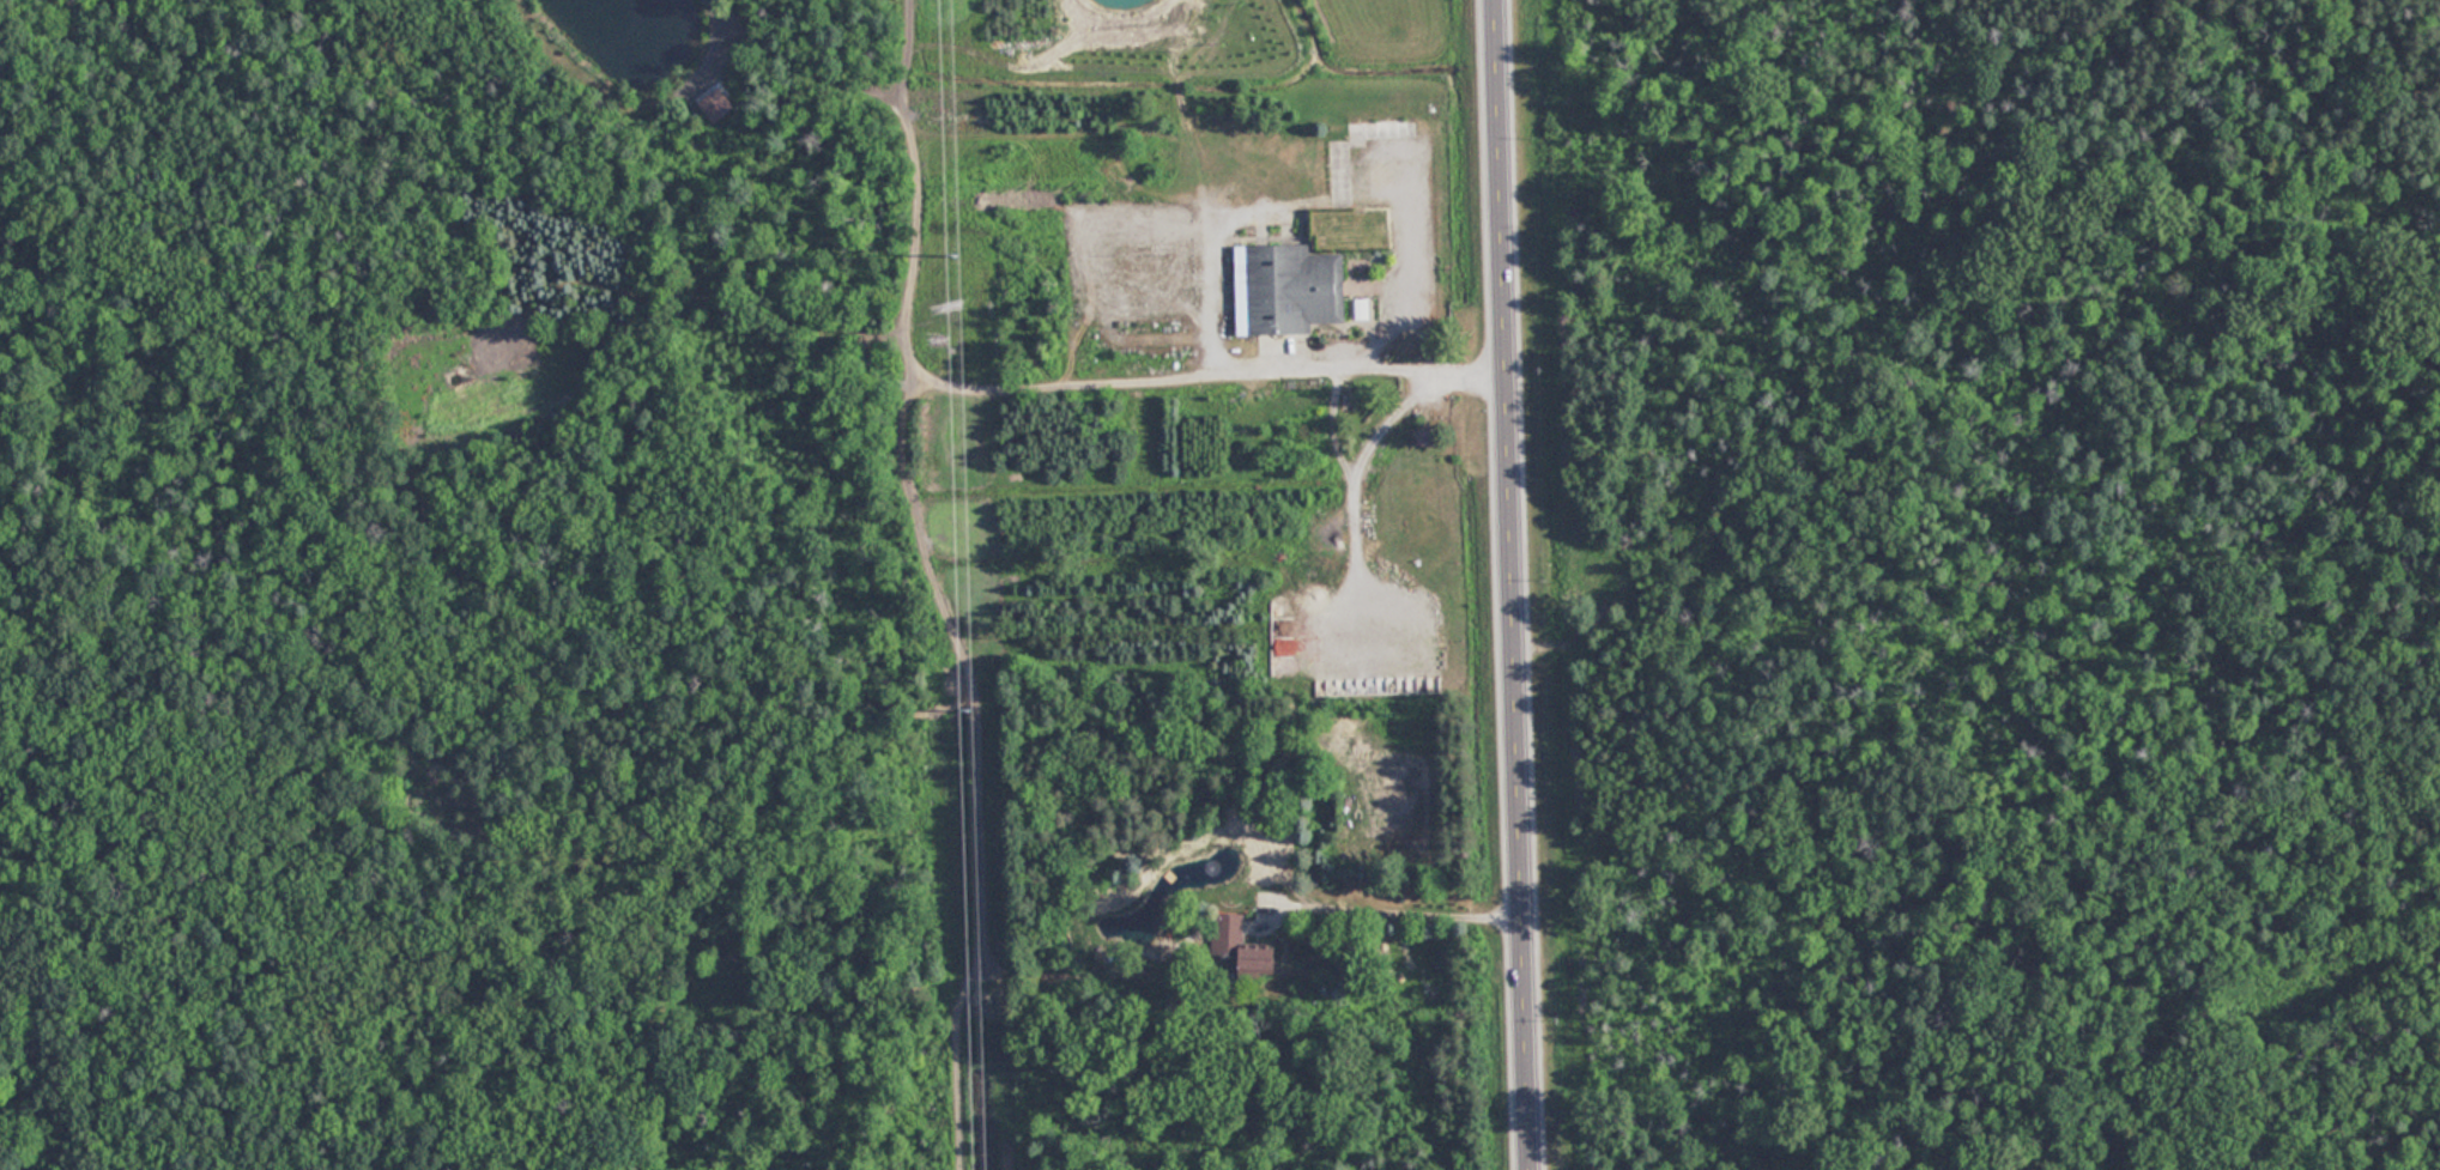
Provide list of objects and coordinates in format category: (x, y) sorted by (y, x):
building: (1339, 160)
power tower: (955, 259)
building: (1288, 287)
road: (980, 375)
park: (1973, 581)
road: (1512, 584)
park: (194, 593)
power tower: (965, 713)
road: (1386, 908)
building: (1243, 947)

